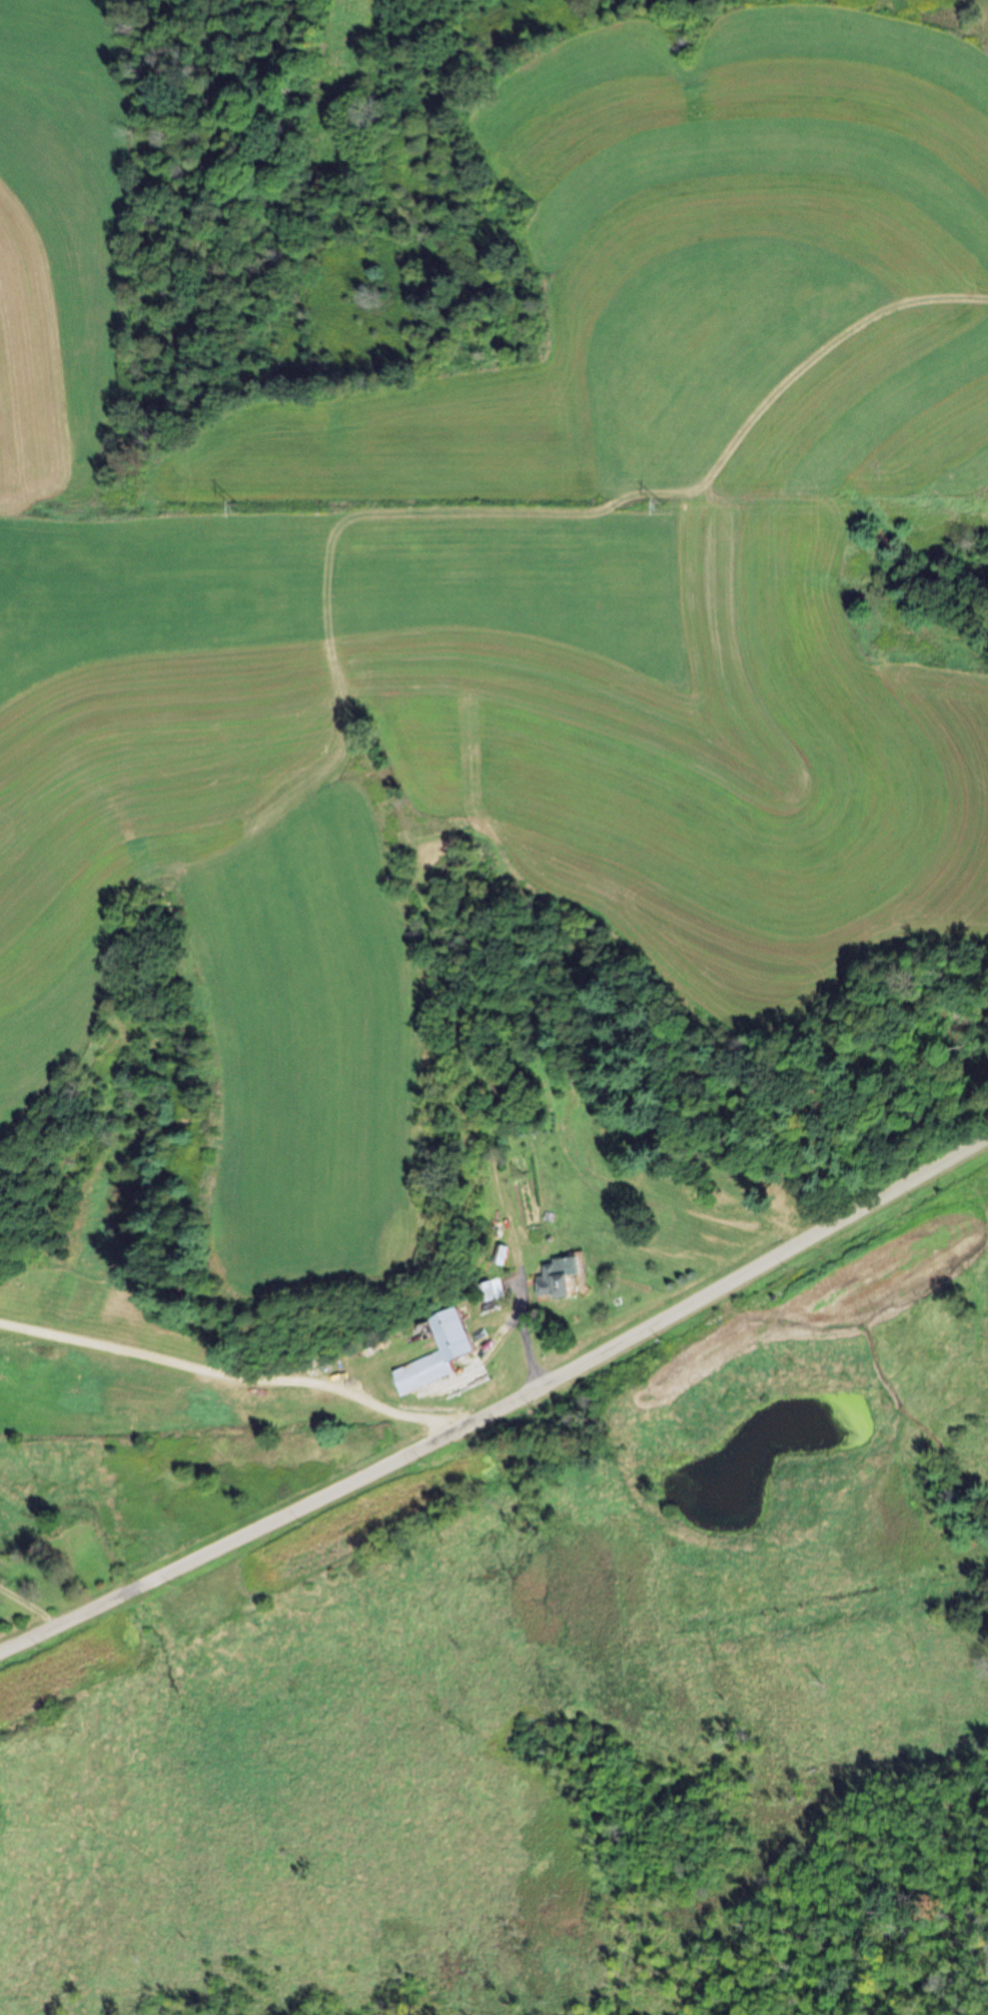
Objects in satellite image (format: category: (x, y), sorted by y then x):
building: (559, 1278)
building: (492, 1291)
building: (438, 1354)
road: (500, 1408)

